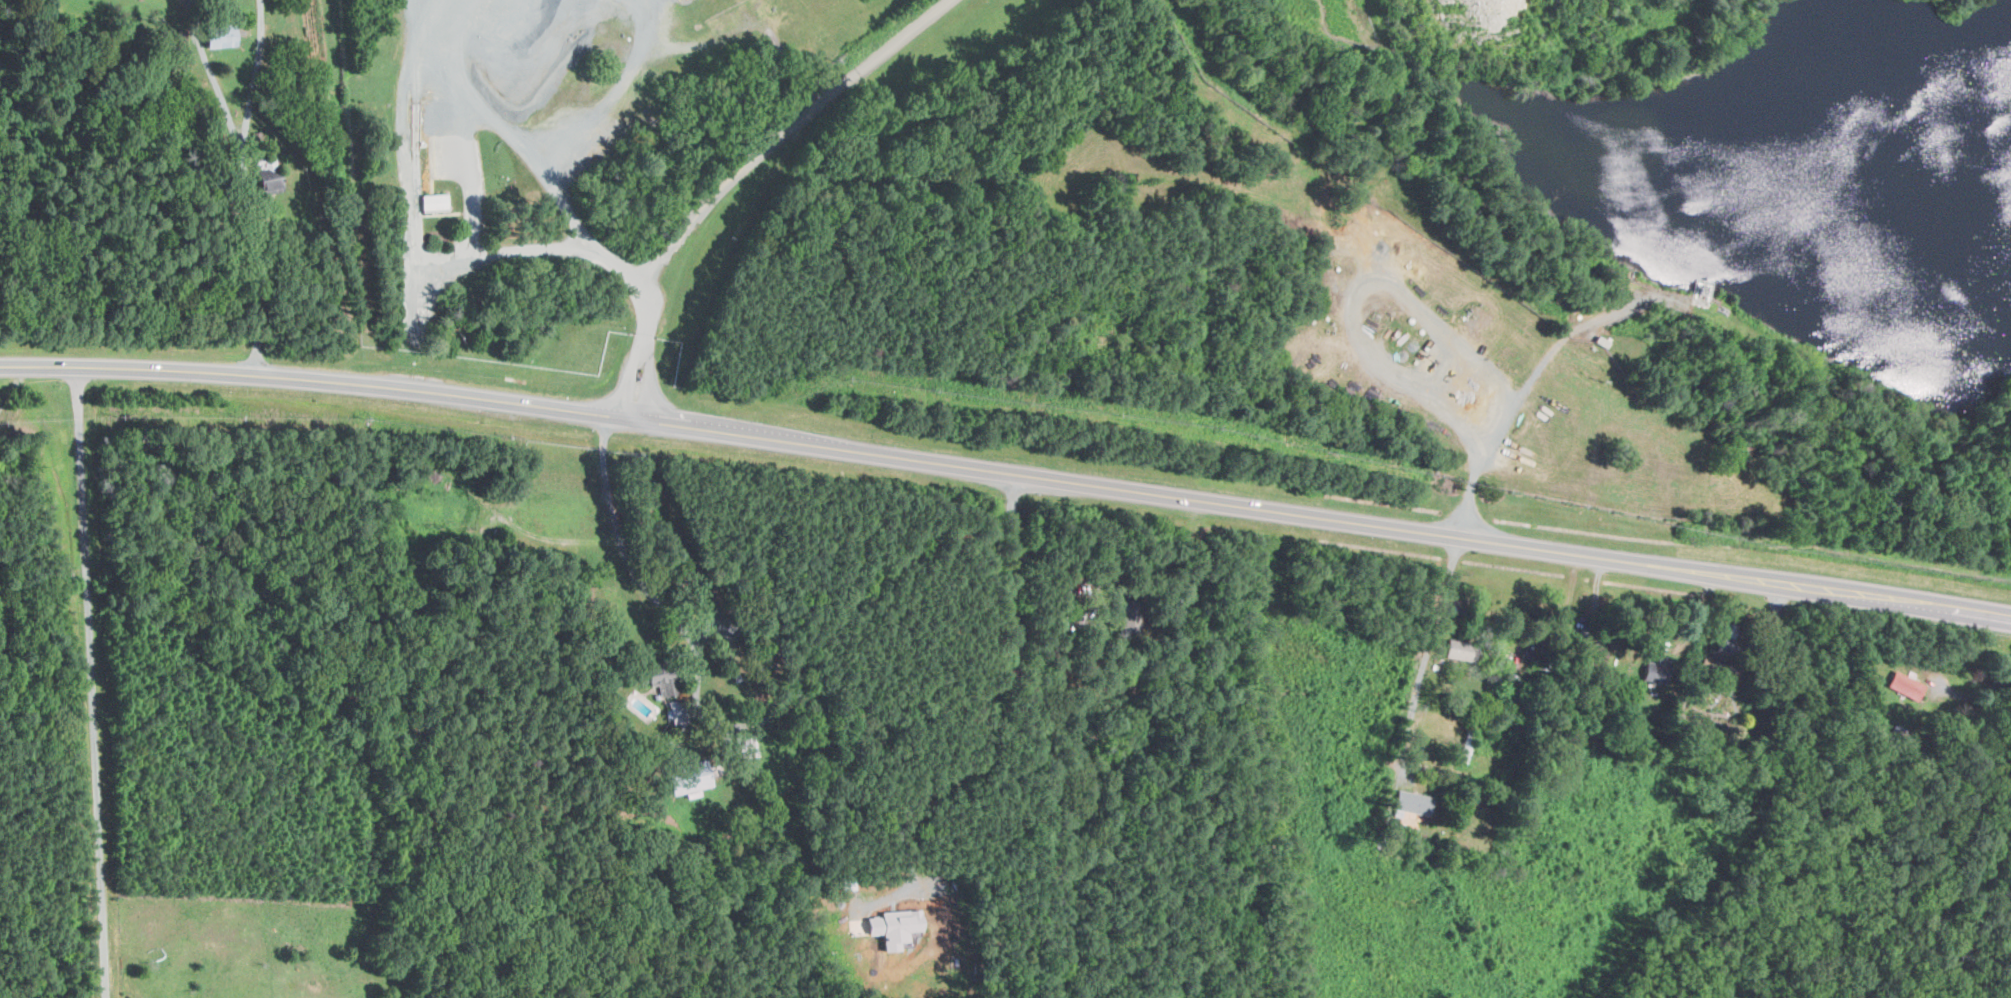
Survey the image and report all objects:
building: (215, 36)
road: (212, 76)
road: (605, 99)
road: (782, 129)
road: (505, 131)
building: (267, 181)
road: (245, 187)
building: (431, 202)
road: (411, 217)
quarry: (1250, 233)
road: (638, 284)
road: (632, 379)
road: (648, 381)
road: (14, 384)
road: (1507, 418)
road: (80, 468)
road: (975, 468)
road: (628, 563)
road: (1979, 612)
building: (1455, 649)
road: (1427, 654)
building: (1589, 654)
building: (662, 680)
building: (1908, 685)
road: (1975, 694)
road: (1040, 737)
building: (687, 780)
road: (96, 783)
road: (916, 788)
building: (1409, 803)
building: (892, 925)

